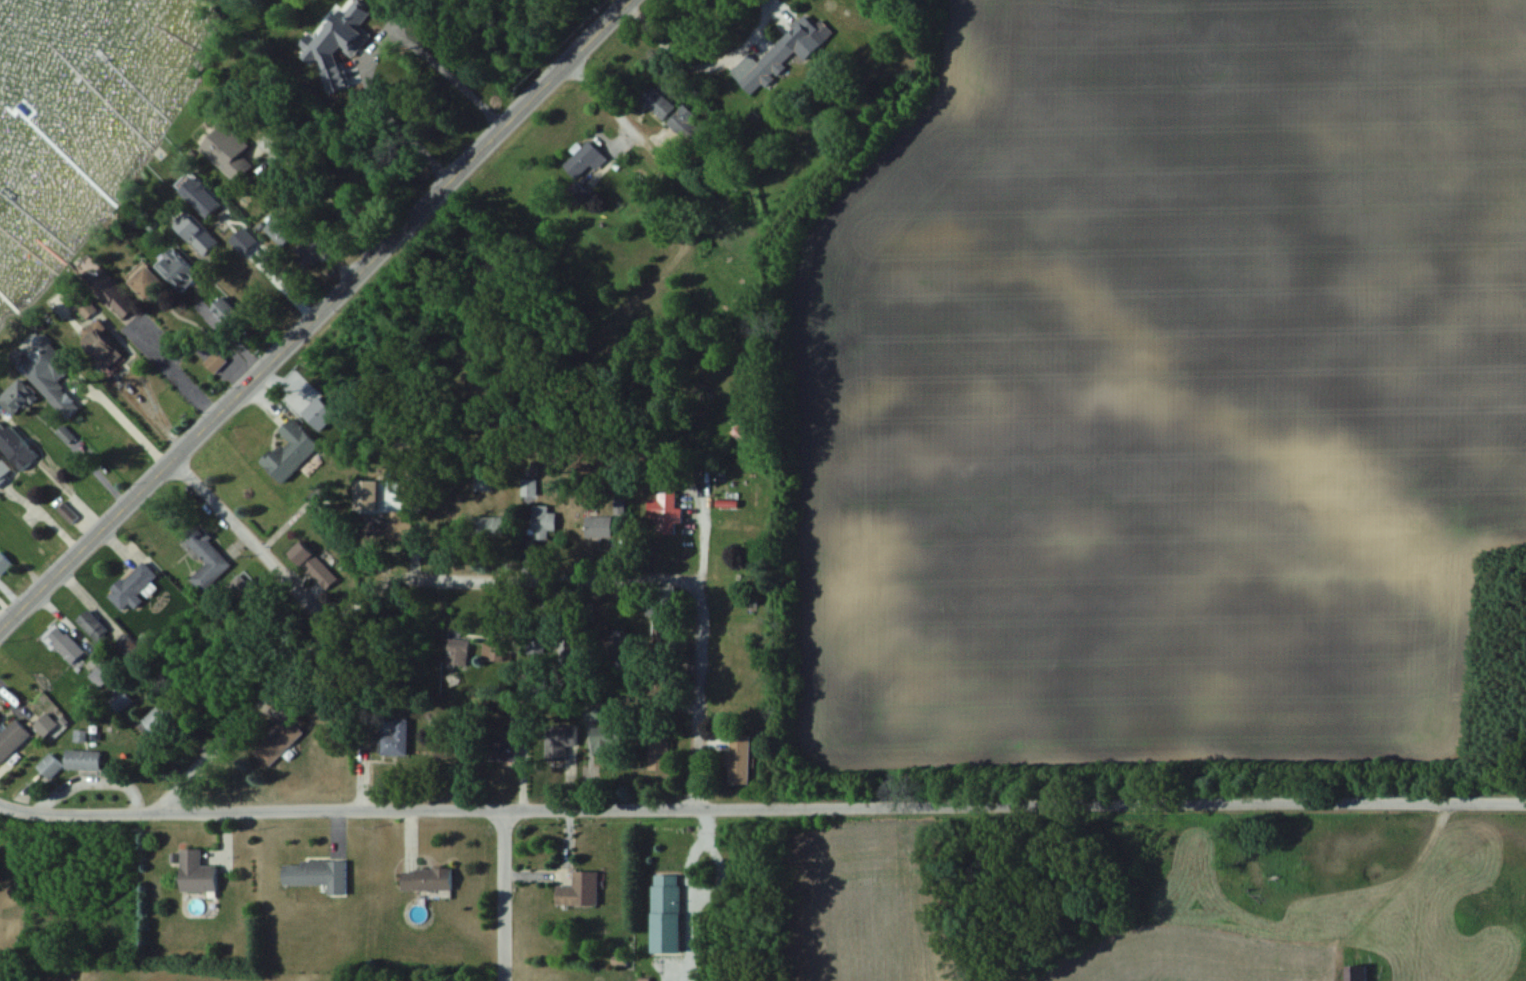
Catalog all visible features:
road: (382, 48)
building: (781, 54)
road: (701, 64)
building: (667, 110)
building: (232, 152)
building: (588, 158)
road: (679, 184)
road: (327, 193)
building: (203, 196)
building: (282, 229)
building: (200, 236)
building: (317, 252)
building: (180, 268)
building: (148, 281)
building: (115, 298)
building: (78, 306)
road: (313, 316)
building: (100, 341)
building: (216, 361)
building: (47, 368)
road: (177, 372)
building: (18, 397)
road: (121, 419)
building: (738, 434)
building: (293, 450)
building: (20, 451)
building: (5, 469)
building: (482, 483)
building: (530, 487)
building: (666, 506)
building: (544, 520)
building: (601, 525)
building: (496, 527)
road: (252, 541)
building: (207, 559)
building: (4, 562)
building: (313, 563)
road: (622, 582)
building: (134, 586)
building: (94, 625)
building: (70, 648)
building: (620, 650)
building: (460, 651)
building: (495, 651)
building: (102, 673)
building: (119, 698)
building: (594, 712)
building: (162, 715)
road: (244, 715)
building: (517, 715)
building: (46, 725)
building: (13, 739)
building: (399, 739)
building: (511, 740)
building: (608, 740)
building: (562, 741)
building: (278, 742)
building: (659, 755)
building: (740, 758)
building: (84, 759)
building: (51, 766)
road: (762, 809)
building: (199, 873)
building: (318, 875)
building: (429, 879)
building: (581, 890)
road: (503, 896)
building: (668, 914)
building: (1358, 973)

